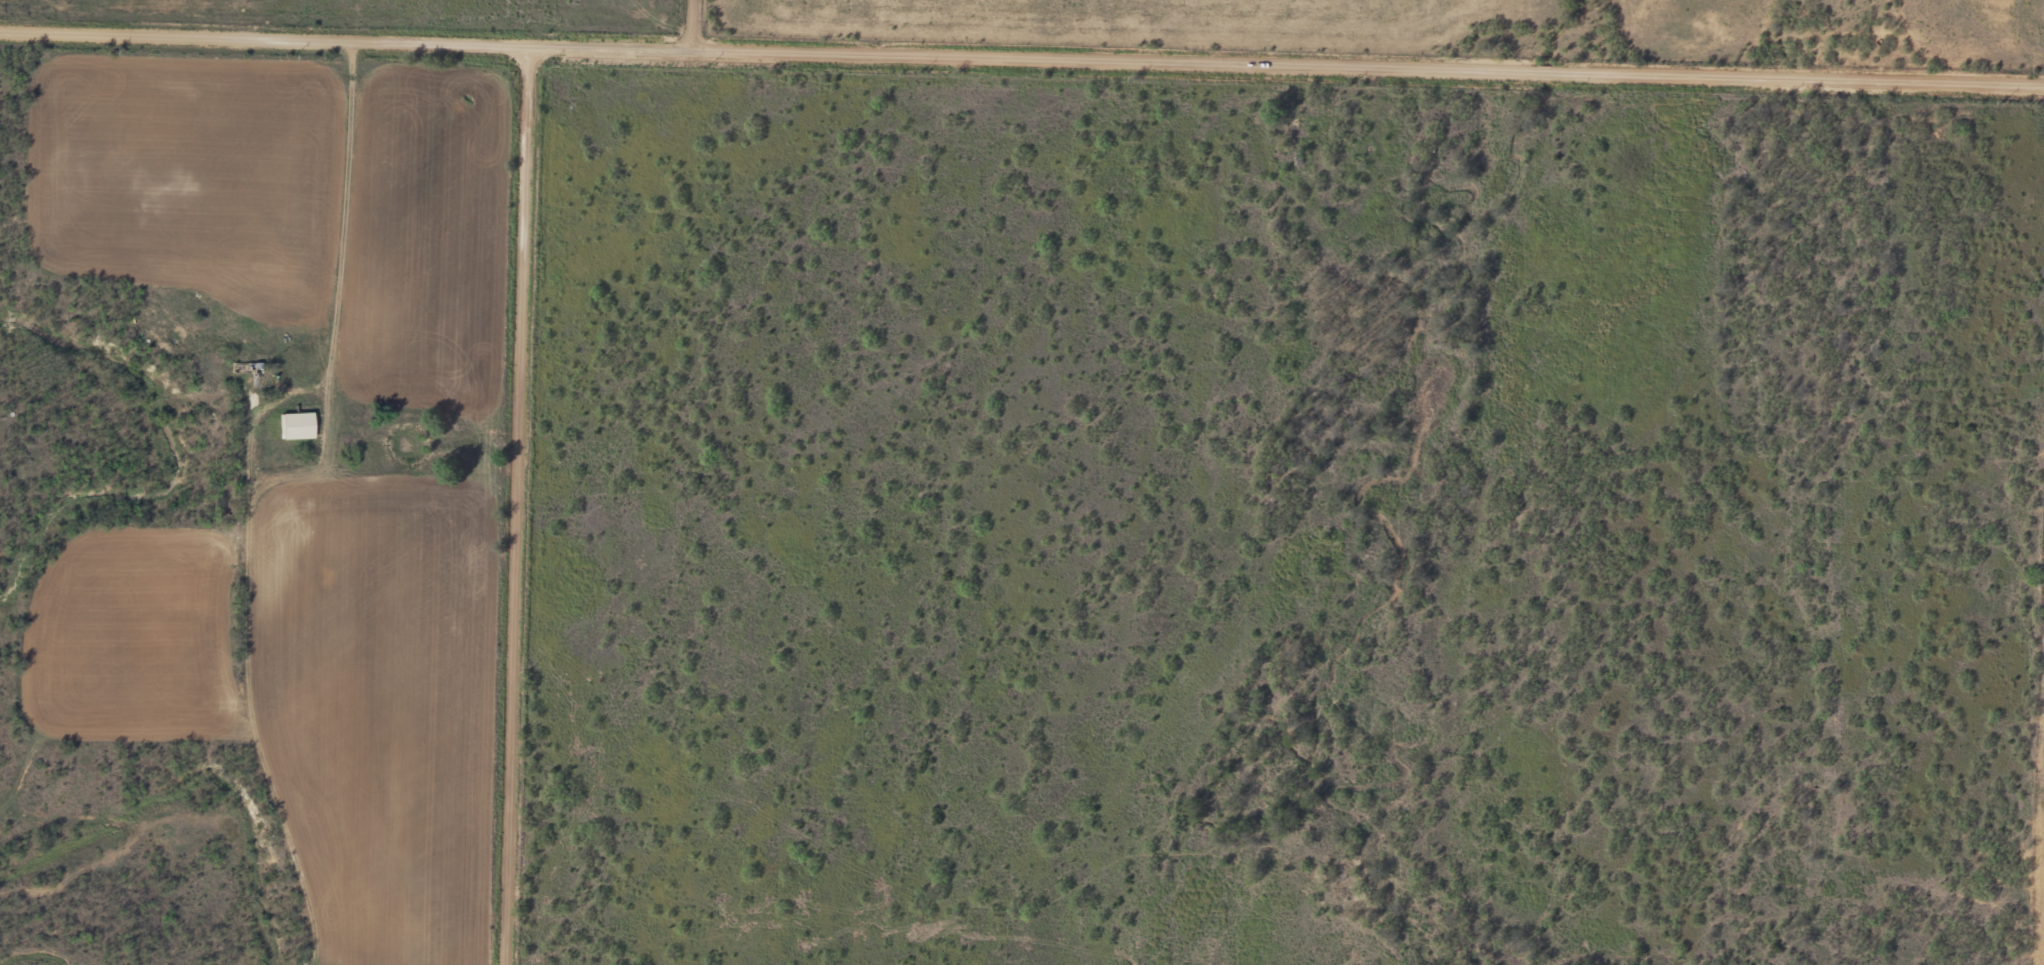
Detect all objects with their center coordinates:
road: (693, 23)
road: (1022, 54)
building: (298, 427)
road: (517, 503)

